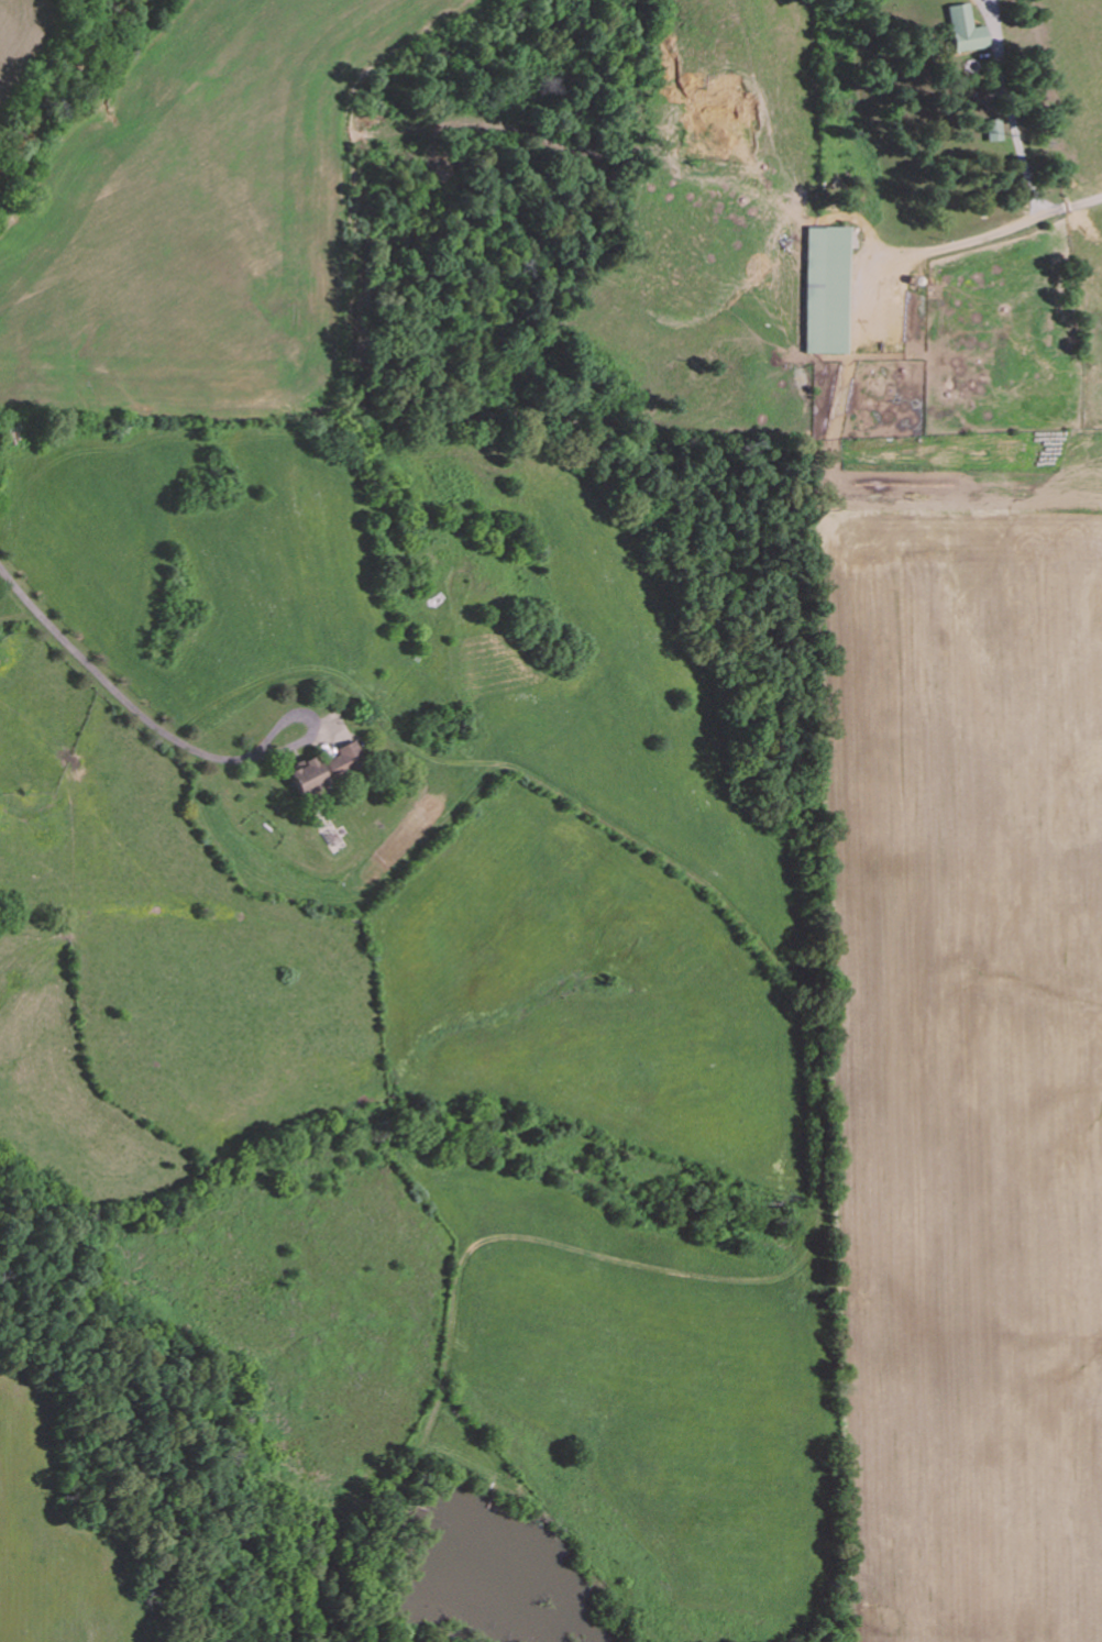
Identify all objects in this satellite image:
building: (963, 26)
building: (993, 128)
building: (827, 288)
road: (132, 703)
building: (305, 773)

